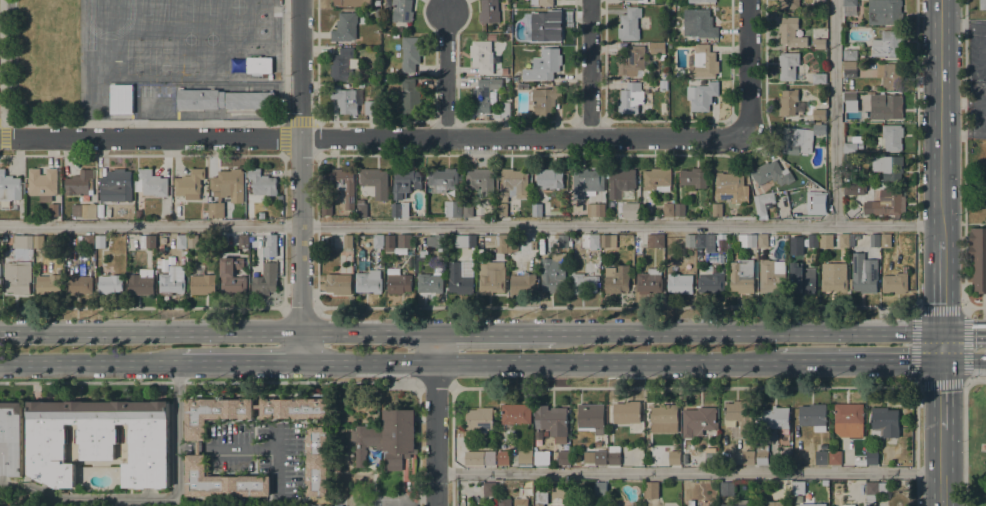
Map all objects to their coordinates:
building: (642, 1)
building: (701, 1)
building: (351, 3)
building: (543, 3)
building: (850, 3)
building: (789, 4)
building: (983, 4)
building: (672, 8)
building: (402, 10)
building: (489, 11)
building: (884, 12)
building: (629, 24)
building: (699, 24)
building: (544, 25)
road: (962, 26)
building: (345, 27)
building: (508, 28)
building: (790, 32)
building: (491, 37)
building: (819, 44)
building: (889, 44)
building: (658, 48)
building: (411, 53)
building: (850, 55)
building: (482, 56)
building: (548, 62)
building: (634, 62)
building: (704, 62)
road: (747, 64)
building: (259, 65)
building: (342, 65)
building: (788, 66)
road: (589, 68)
building: (850, 69)
building: (504, 71)
road: (445, 74)
building: (665, 76)
building: (894, 76)
building: (819, 78)
building: (524, 85)
building: (663, 85)
building: (845, 88)
building: (875, 88)
building: (483, 95)
building: (702, 96)
building: (410, 97)
building: (633, 97)
building: (120, 99)
building: (200, 99)
building: (346, 99)
building: (546, 99)
building: (249, 100)
building: (850, 102)
building: (790, 103)
road: (962, 103)
building: (891, 106)
building: (371, 107)
building: (505, 109)
road: (834, 112)
building: (819, 114)
building: (853, 116)
road: (939, 120)
road: (283, 121)
road: (142, 122)
road: (3, 133)
road: (962, 134)
road: (372, 137)
building: (891, 138)
building: (799, 139)
building: (850, 148)
road: (299, 166)
building: (889, 167)
building: (855, 168)
building: (772, 174)
road: (964, 177)
building: (443, 178)
building: (549, 178)
building: (693, 179)
building: (657, 180)
building: (375, 181)
building: (481, 181)
building: (262, 182)
building: (405, 182)
building: (586, 182)
building: (621, 182)
building: (879, 182)
building: (79, 183)
building: (151, 183)
building: (513, 183)
building: (42, 184)
building: (9, 186)
building: (116, 186)
building: (188, 186)
building: (732, 187)
building: (337, 189)
building: (225, 190)
building: (850, 190)
building: (984, 194)
building: (279, 197)
building: (763, 203)
building: (816, 203)
building: (886, 203)
building: (453, 208)
building: (400, 209)
building: (679, 209)
building: (717, 209)
building: (83, 210)
building: (362, 210)
building: (468, 210)
building: (502, 210)
building: (536, 210)
building: (596, 210)
building: (631, 210)
building: (668, 210)
building: (853, 210)
building: (53, 212)
building: (138, 214)
building: (261, 214)
road: (469, 224)
building: (5, 238)
building: (251, 239)
building: (561, 239)
building: (436, 240)
building: (467, 240)
building: (608, 240)
building: (655, 240)
building: (690, 240)
building: (746, 240)
building: (813, 240)
building: (844, 240)
building: (875, 240)
building: (885, 240)
building: (22, 241)
building: (38, 241)
building: (89, 241)
building: (100, 241)
building: (147, 241)
building: (182, 241)
building: (192, 241)
building: (243, 241)
building: (272, 241)
building: (347, 241)
building: (378, 241)
building: (404, 241)
building: (497, 241)
building: (590, 241)
building: (705, 241)
building: (763, 241)
building: (826, 241)
building: (852, 241)
building: (512, 242)
building: (389, 244)
building: (540, 244)
building: (796, 246)
building: (513, 251)
building: (978, 257)
building: (812, 262)
building: (906, 269)
building: (553, 273)
building: (864, 273)
building: (492, 275)
building: (741, 276)
building: (17, 277)
building: (232, 277)
building: (771, 277)
building: (834, 277)
building: (322, 278)
building: (459, 279)
building: (616, 279)
building: (801, 280)
building: (172, 281)
building: (649, 281)
building: (710, 281)
building: (49, 282)
building: (141, 282)
building: (339, 282)
building: (368, 282)
building: (263, 283)
building: (399, 283)
building: (430, 283)
building: (583, 283)
building: (680, 283)
building: (895, 283)
building: (78, 284)
building: (110, 284)
building: (202, 284)
road: (939, 285)
building: (322, 286)
building: (522, 286)
road: (143, 307)
road: (768, 307)
road: (299, 308)
road: (746, 331)
road: (963, 331)
road: (150, 332)
road: (367, 332)
road: (494, 332)
road: (940, 345)
road: (300, 346)
road: (434, 346)
road: (857, 360)
road: (963, 360)
road: (238, 361)
road: (367, 361)
road: (605, 361)
road: (964, 361)
road: (88, 362)
road: (975, 380)
road: (209, 382)
road: (432, 382)
road: (742, 385)
road: (940, 395)
building: (627, 412)
building: (213, 413)
building: (516, 414)
building: (740, 416)
building: (813, 416)
building: (591, 418)
building: (664, 418)
building: (775, 418)
building: (480, 419)
building: (701, 420)
building: (848, 420)
building: (885, 421)
building: (552, 422)
road: (434, 433)
building: (11, 438)
building: (387, 438)
building: (100, 440)
road: (964, 443)
building: (317, 444)
park: (976, 445)
road: (185, 447)
road: (249, 447)
building: (614, 455)
building: (762, 455)
building: (711, 456)
building: (563, 457)
building: (674, 457)
building: (748, 457)
building: (835, 457)
building: (871, 457)
building: (480, 458)
building: (503, 458)
building: (525, 458)
building: (600, 458)
building: (821, 458)
building: (861, 461)
building: (539, 463)
road: (276, 467)
road: (941, 468)
road: (687, 472)
building: (221, 481)
building: (489, 488)
building: (600, 489)
building: (727, 489)
building: (651, 490)
building: (874, 491)
road: (154, 498)
building: (541, 498)
building: (504, 502)
building: (521, 502)
building: (692, 503)
building: (737, 503)
building: (774, 503)
building: (812, 504)
building: (341, 505)
building: (848, 505)

